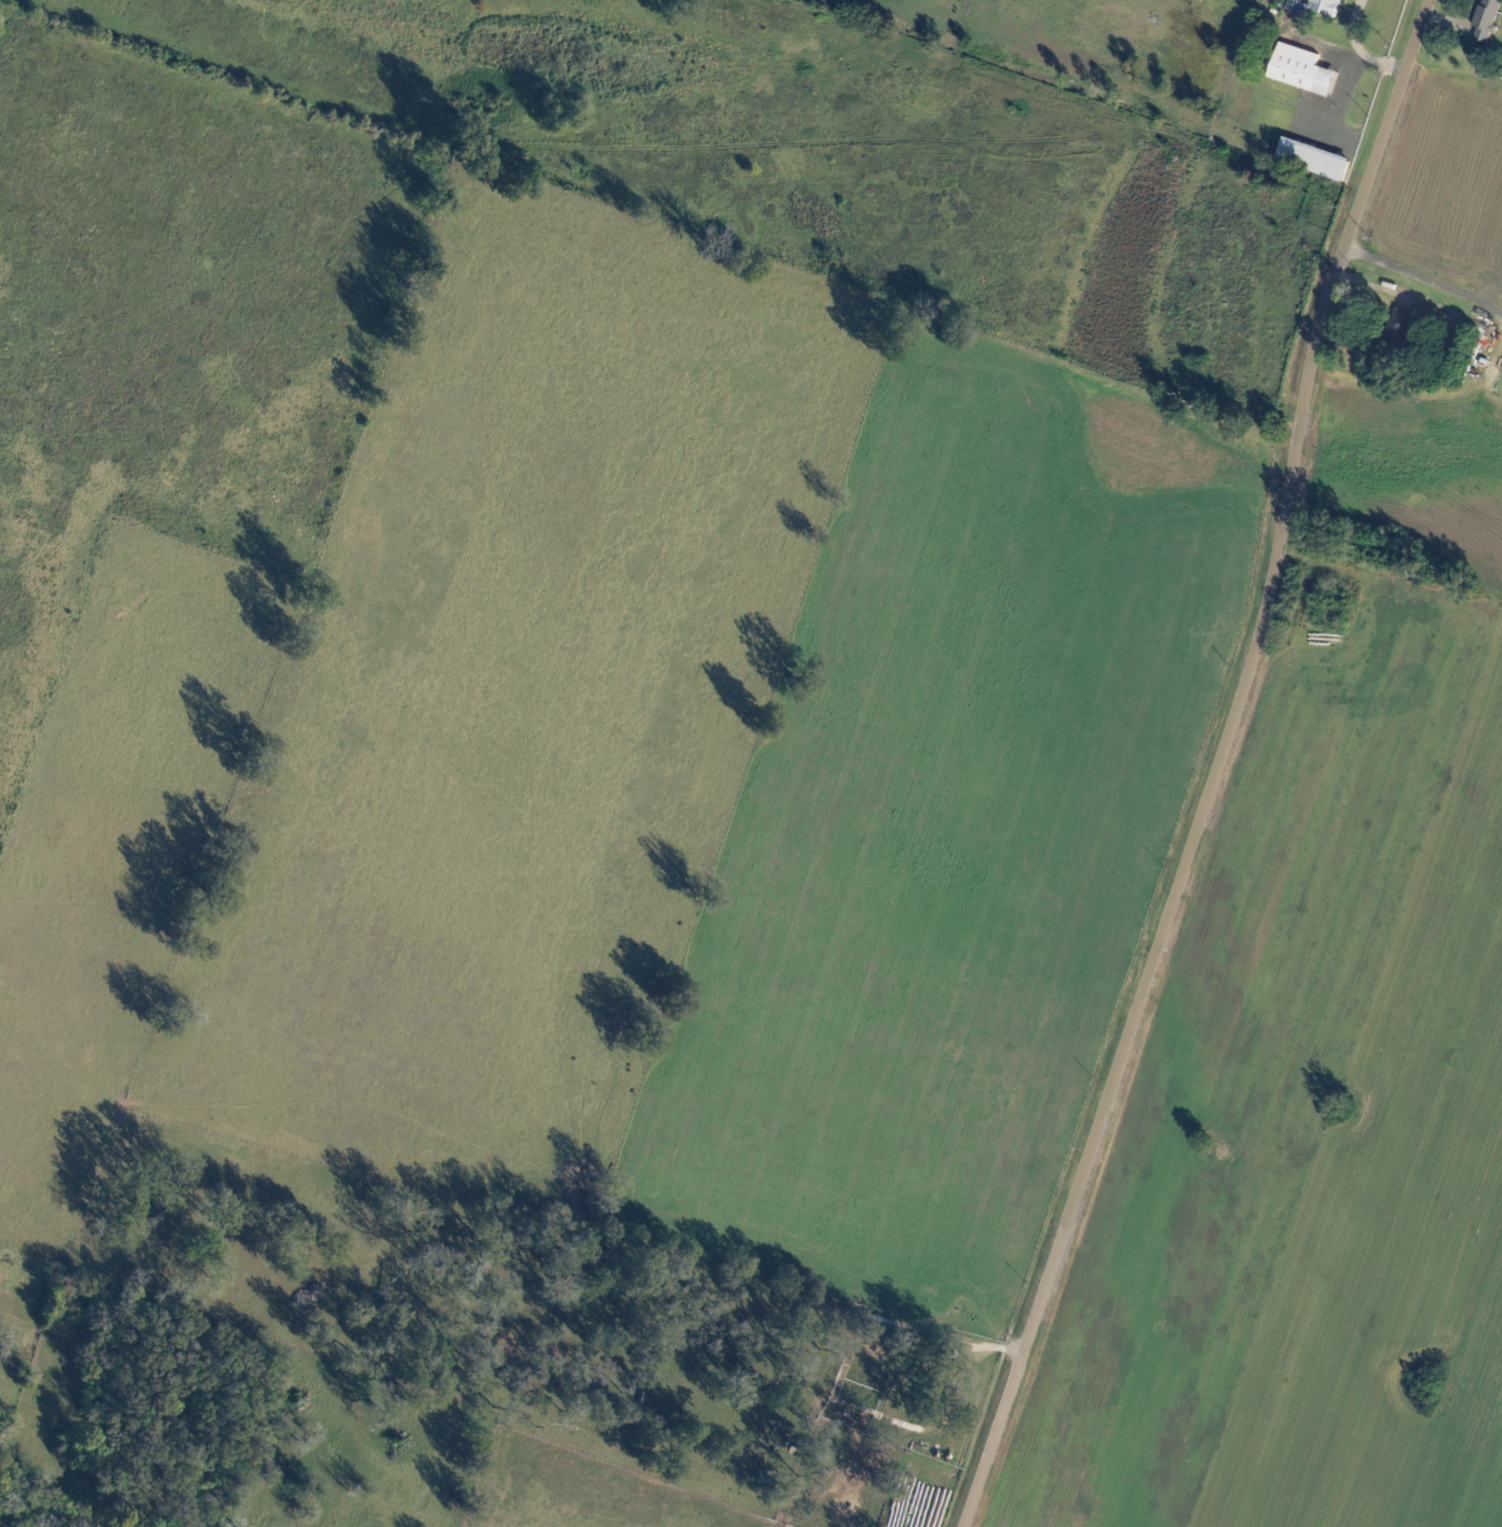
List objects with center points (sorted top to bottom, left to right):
building: (1325, 5)
road: (1444, 19)
building: (1484, 19)
road: (1369, 55)
building: (1303, 68)
building: (1315, 157)
road: (1411, 281)
building: (1399, 328)
road: (1214, 767)

